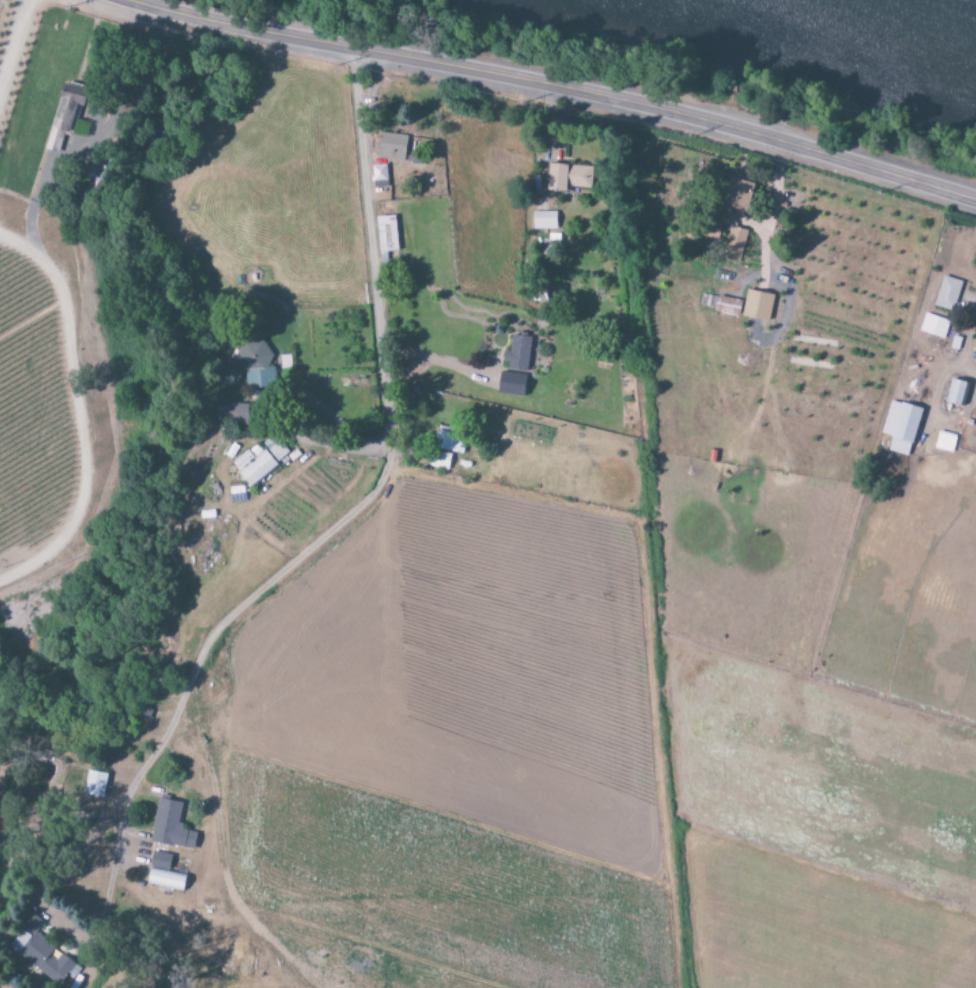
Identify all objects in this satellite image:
river: (845, 28)
road: (18, 90)
road: (546, 91)
building: (65, 113)
building: (392, 147)
building: (90, 174)
building: (379, 176)
building: (567, 177)
building: (737, 197)
building: (543, 221)
building: (386, 234)
building: (734, 244)
building: (947, 294)
building: (720, 304)
building: (757, 306)
building: (934, 326)
building: (517, 354)
building: (252, 355)
building: (957, 394)
building: (238, 414)
building: (900, 427)
building: (449, 441)
building: (945, 442)
building: (277, 451)
building: (440, 461)
building: (253, 466)
road: (334, 527)
building: (94, 785)
building: (171, 826)
building: (164, 873)
building: (40, 952)

